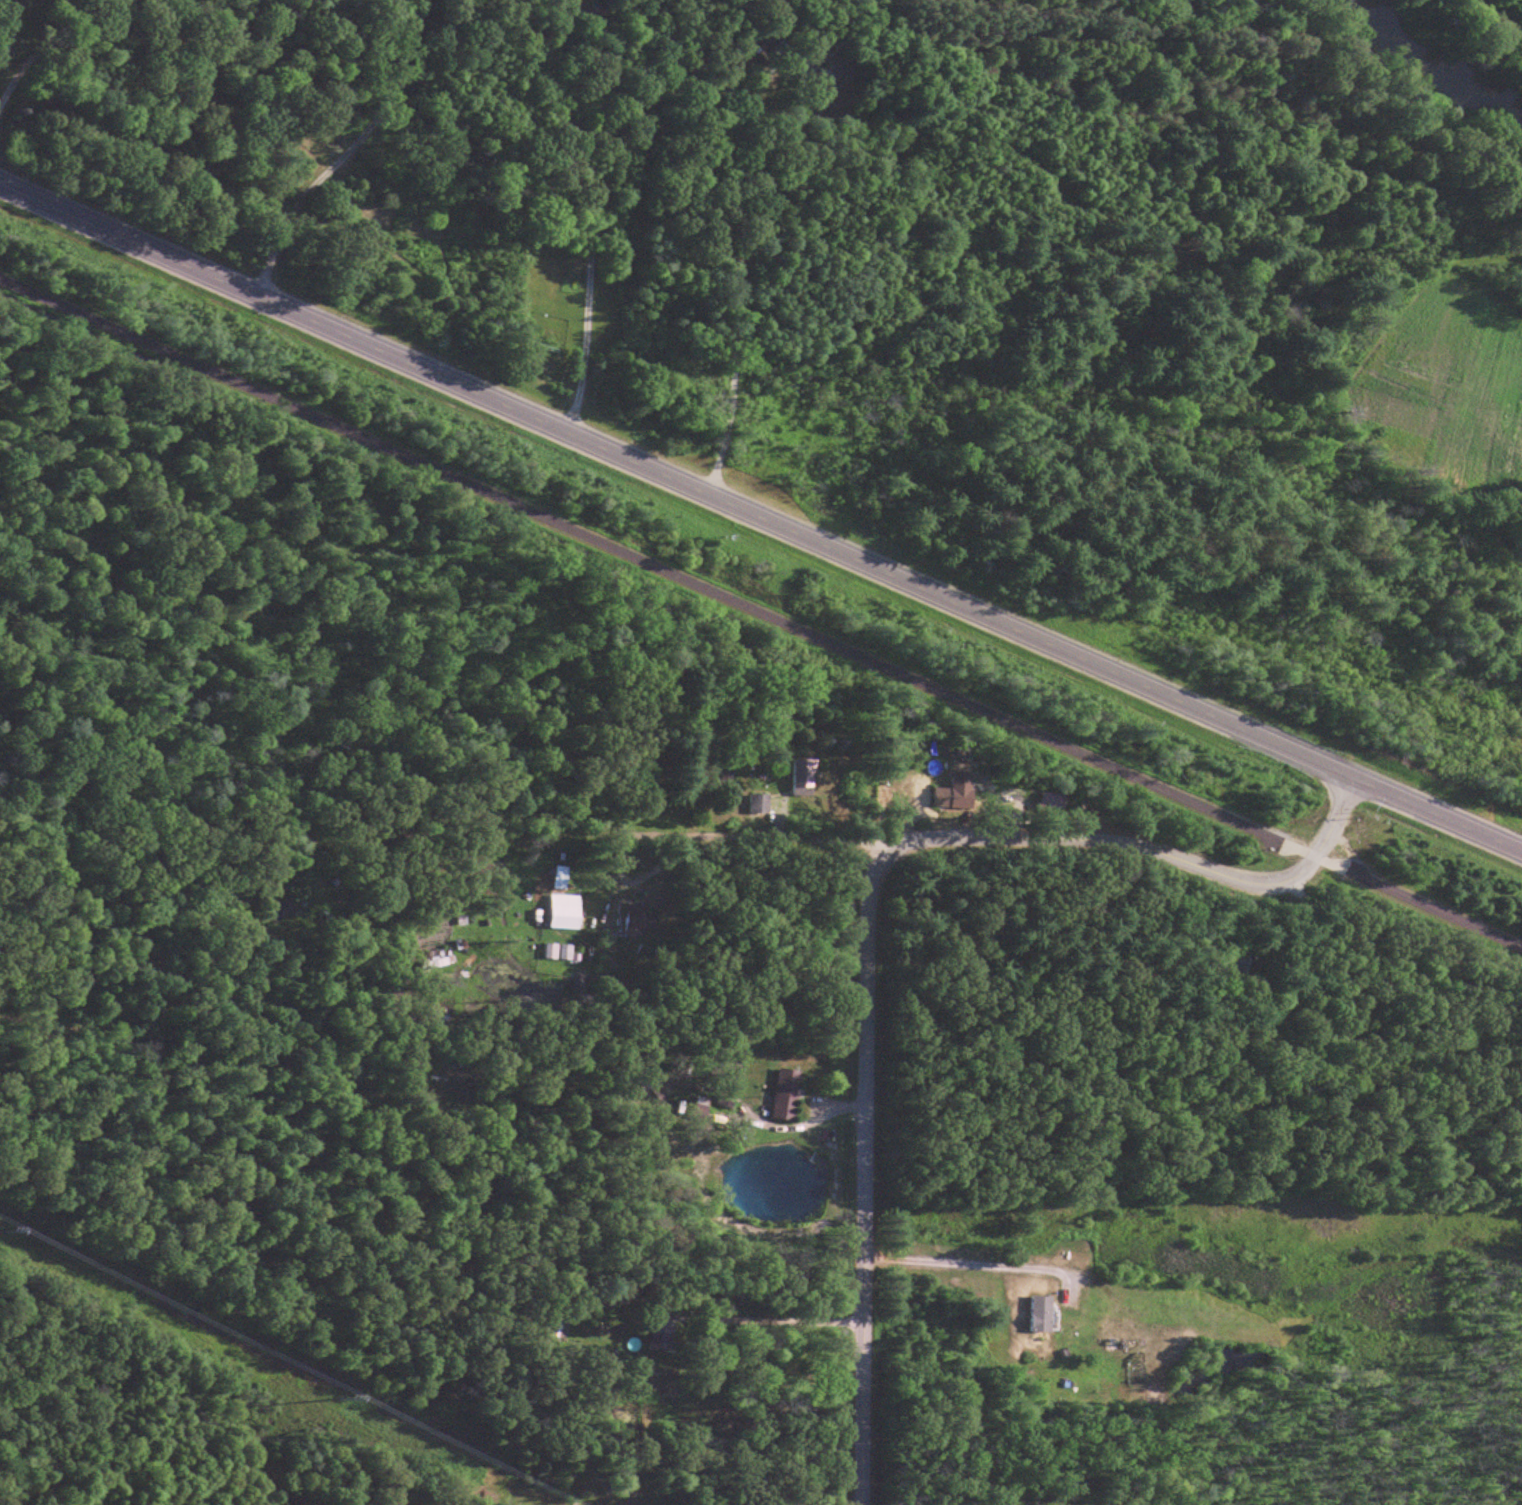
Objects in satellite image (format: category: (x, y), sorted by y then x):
river: (1442, 64)
road: (761, 518)
road: (759, 613)
building: (804, 778)
building: (763, 804)
road: (754, 837)
building: (562, 878)
road: (869, 906)
building: (287, 910)
building: (567, 913)
building: (641, 922)
building: (1227, 962)
building: (788, 1096)
power tower: (4, 1228)
road: (974, 1265)
building: (594, 1297)
building: (1036, 1315)
road: (787, 1320)
building: (648, 1325)
power tower: (339, 1393)

